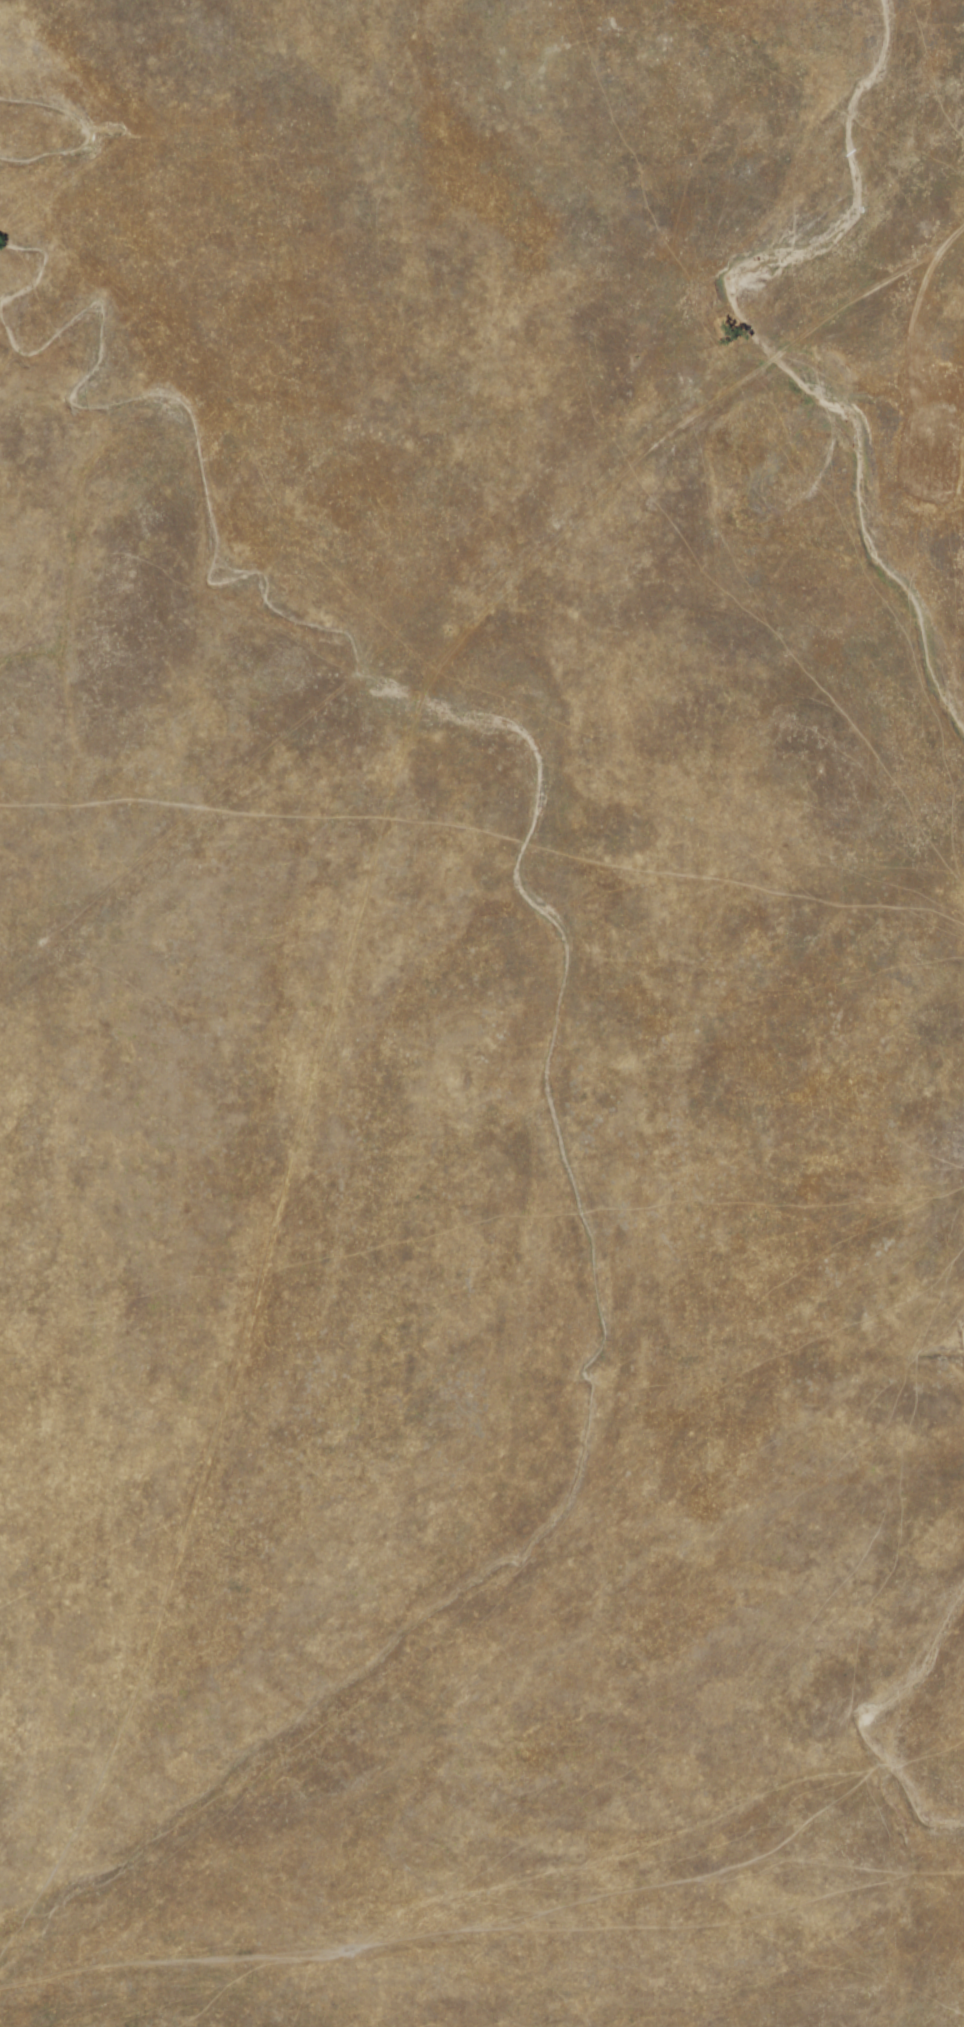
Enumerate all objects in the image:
road: (338, 993)

